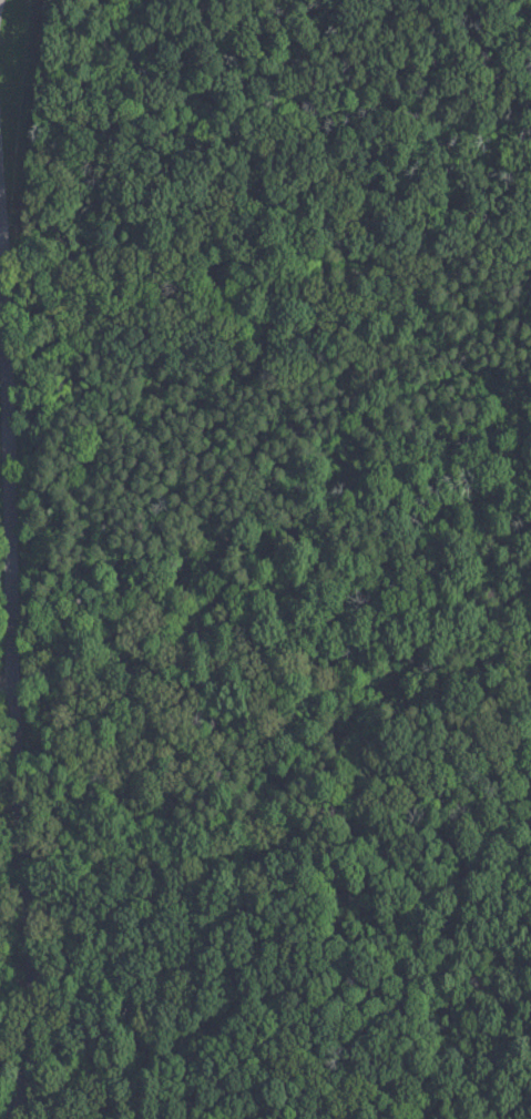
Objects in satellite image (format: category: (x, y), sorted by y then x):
road: (2, 20)
road: (14, 506)

